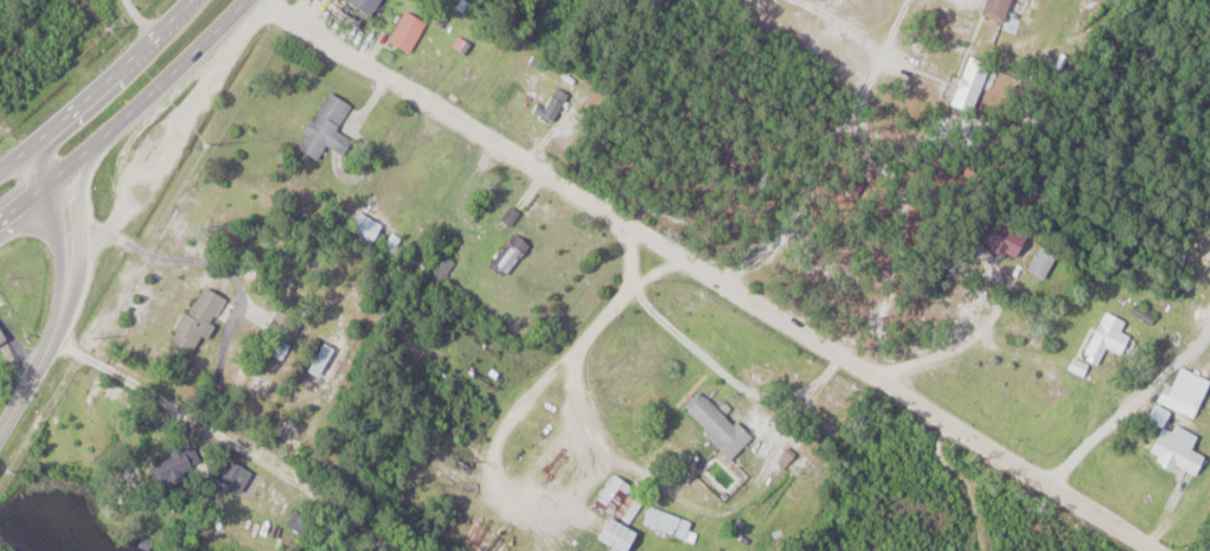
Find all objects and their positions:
building: (441, 0)
building: (359, 6)
building: (988, 11)
road: (134, 18)
road: (901, 30)
building: (404, 33)
building: (965, 85)
road: (95, 87)
road: (127, 111)
building: (329, 129)
building: (367, 232)
building: (999, 239)
building: (511, 255)
road: (174, 257)
building: (1038, 263)
road: (705, 274)
road: (65, 291)
building: (1205, 310)
building: (200, 320)
building: (286, 325)
building: (1102, 339)
building: (2, 340)
road: (961, 346)
building: (326, 359)
road: (124, 377)
building: (1176, 402)
road: (1129, 408)
building: (713, 425)
building: (1172, 454)
building: (787, 461)
building: (178, 463)
building: (237, 475)
building: (623, 512)
building: (306, 521)
building: (672, 523)

